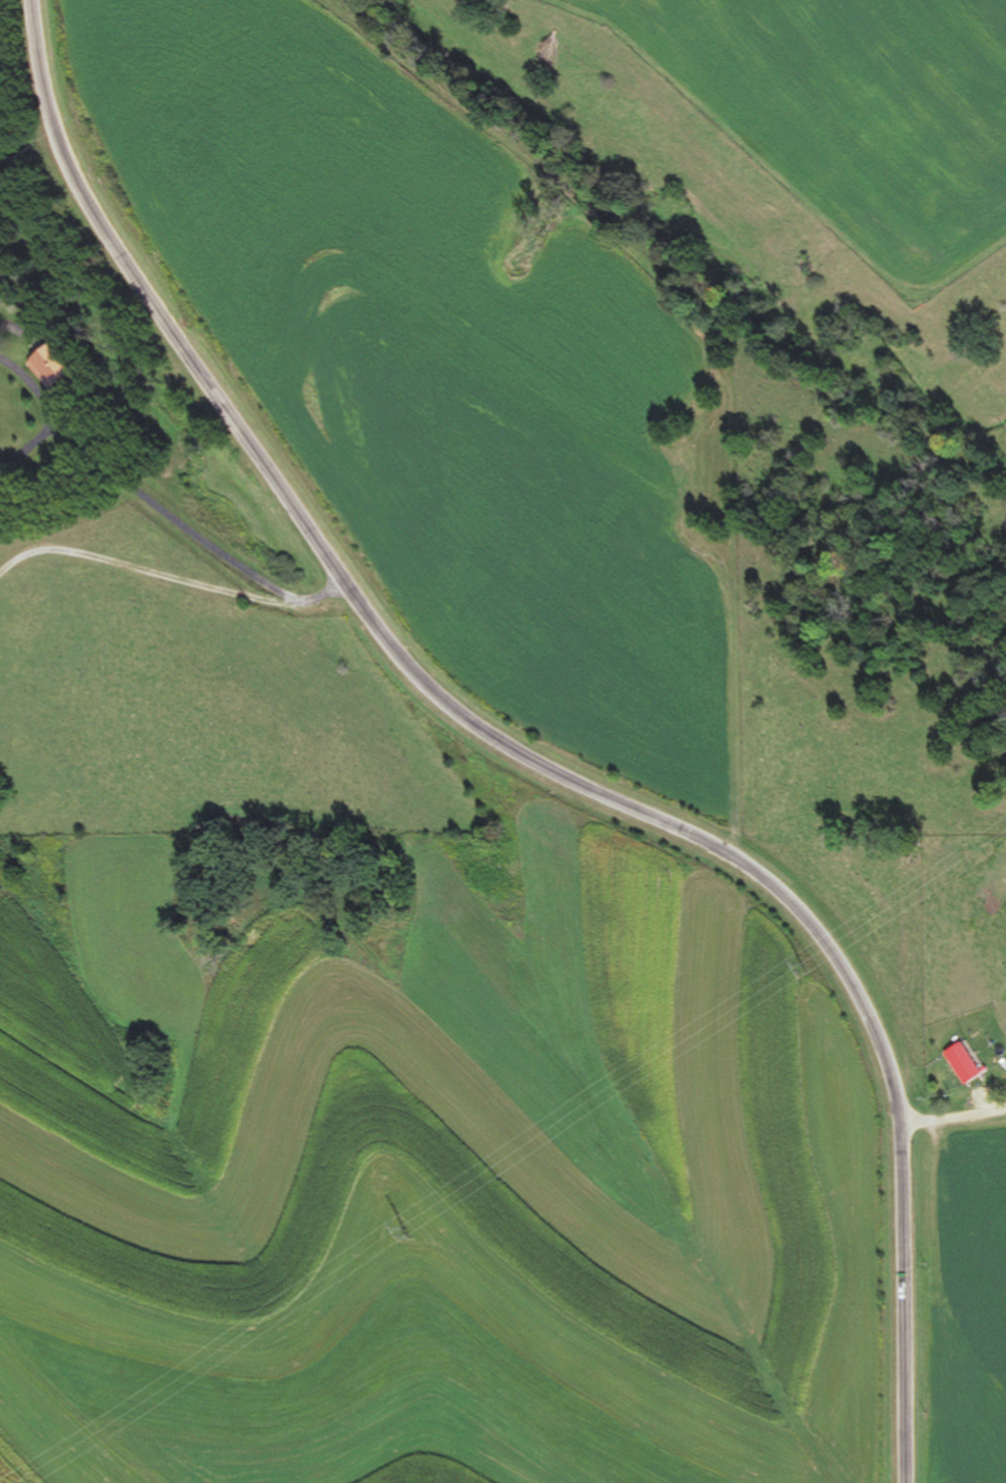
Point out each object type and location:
building: (57, 368)
road: (522, 751)
power tower: (810, 975)
building: (966, 1063)
road: (951, 1122)
power tower: (411, 1241)

